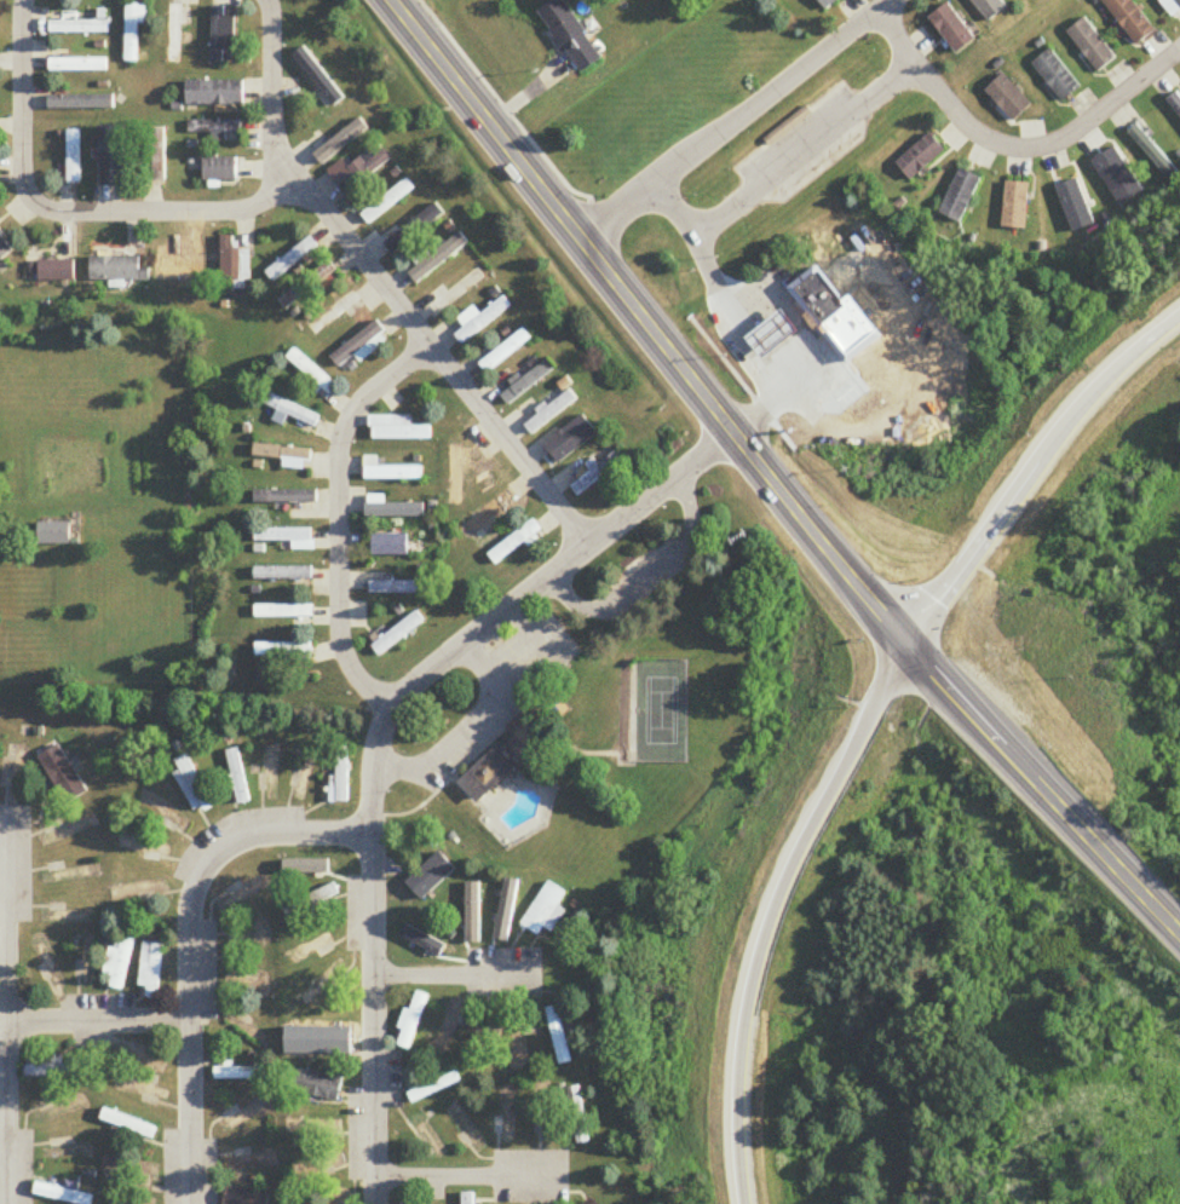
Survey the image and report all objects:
building: (1035, 0)
building: (827, 4)
road: (267, 6)
building: (1172, 7)
building: (1130, 21)
building: (79, 28)
building: (134, 30)
building: (954, 30)
building: (174, 34)
building: (221, 35)
building: (571, 36)
building: (1092, 46)
building: (77, 65)
building: (1058, 76)
building: (214, 94)
road: (276, 97)
building: (1009, 99)
building: (81, 103)
building: (1175, 104)
road: (23, 115)
road: (735, 119)
building: (217, 131)
road: (805, 140)
road: (1013, 148)
building: (1155, 154)
building: (160, 155)
building: (74, 157)
building: (113, 157)
building: (921, 157)
building: (219, 171)
building: (362, 171)
building: (961, 196)
building: (387, 201)
building: (1018, 207)
road: (174, 213)
building: (2, 248)
building: (438, 259)
building: (292, 260)
building: (234, 269)
building: (115, 270)
building: (56, 271)
building: (183, 271)
building: (307, 286)
building: (818, 295)
road: (732, 316)
building: (482, 319)
road: (645, 323)
building: (778, 336)
building: (359, 345)
building: (506, 351)
road: (441, 358)
building: (312, 373)
road: (899, 382)
building: (528, 384)
building: (293, 411)
building: (552, 413)
building: (397, 430)
building: (286, 456)
road: (1032, 471)
building: (391, 472)
building: (597, 474)
building: (287, 497)
road: (341, 517)
building: (54, 534)
building: (289, 537)
building: (518, 542)
building: (390, 545)
road: (640, 571)
building: (283, 574)
building: (396, 588)
building: (284, 611)
building: (398, 634)
building: (284, 652)
road: (485, 668)
road: (491, 702)
park: (661, 713)
park: (610, 720)
road: (380, 737)
building: (62, 774)
building: (489, 774)
building: (341, 776)
building: (237, 777)
building: (192, 787)
road: (1043, 789)
building: (311, 900)
building: (546, 910)
road: (772, 911)
building: (426, 939)
road: (190, 946)
building: (120, 960)
building: (151, 969)
road: (457, 975)
building: (323, 984)
road: (6, 1009)
building: (413, 1020)
road: (98, 1022)
building: (451, 1025)
building: (559, 1035)
building: (52, 1070)
building: (238, 1075)
building: (318, 1085)
building: (433, 1088)
building: (579, 1116)
building: (505, 1119)
building: (128, 1124)
building: (315, 1127)
building: (316, 1168)
road: (470, 1177)
building: (62, 1194)
building: (243, 1197)
building: (467, 1198)

